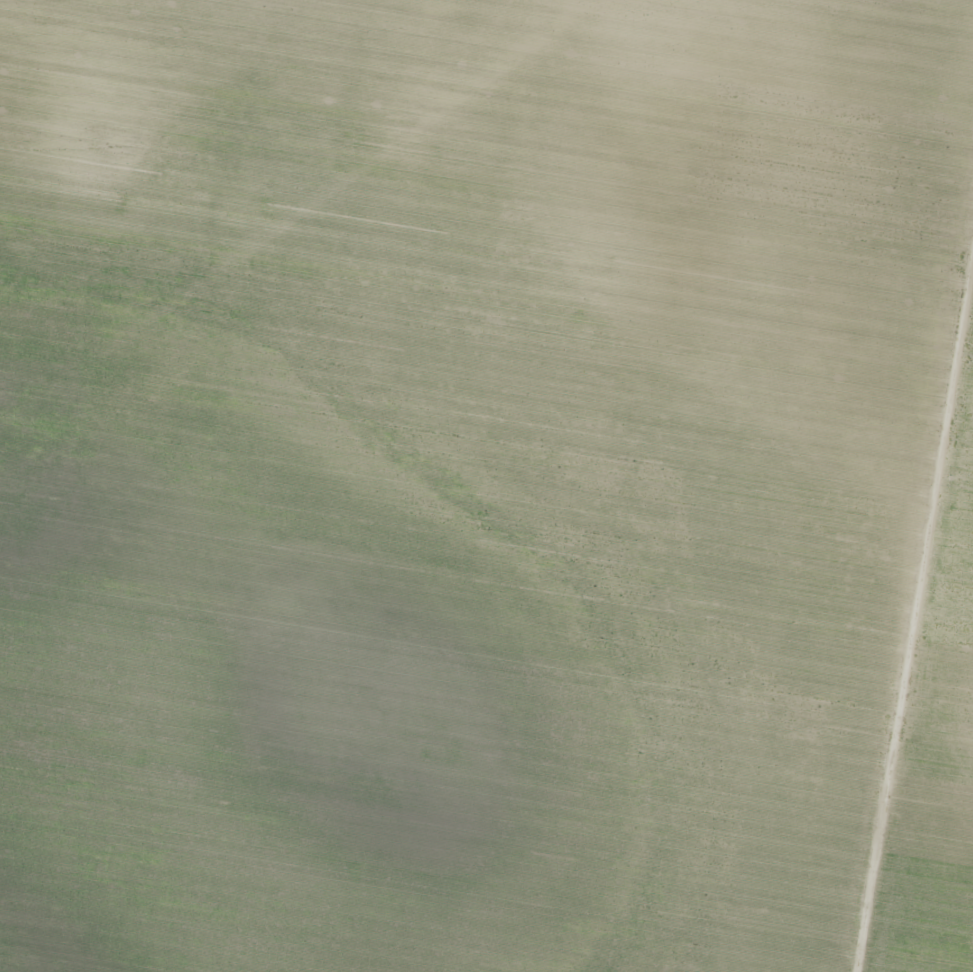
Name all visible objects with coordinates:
road: (910, 609)

